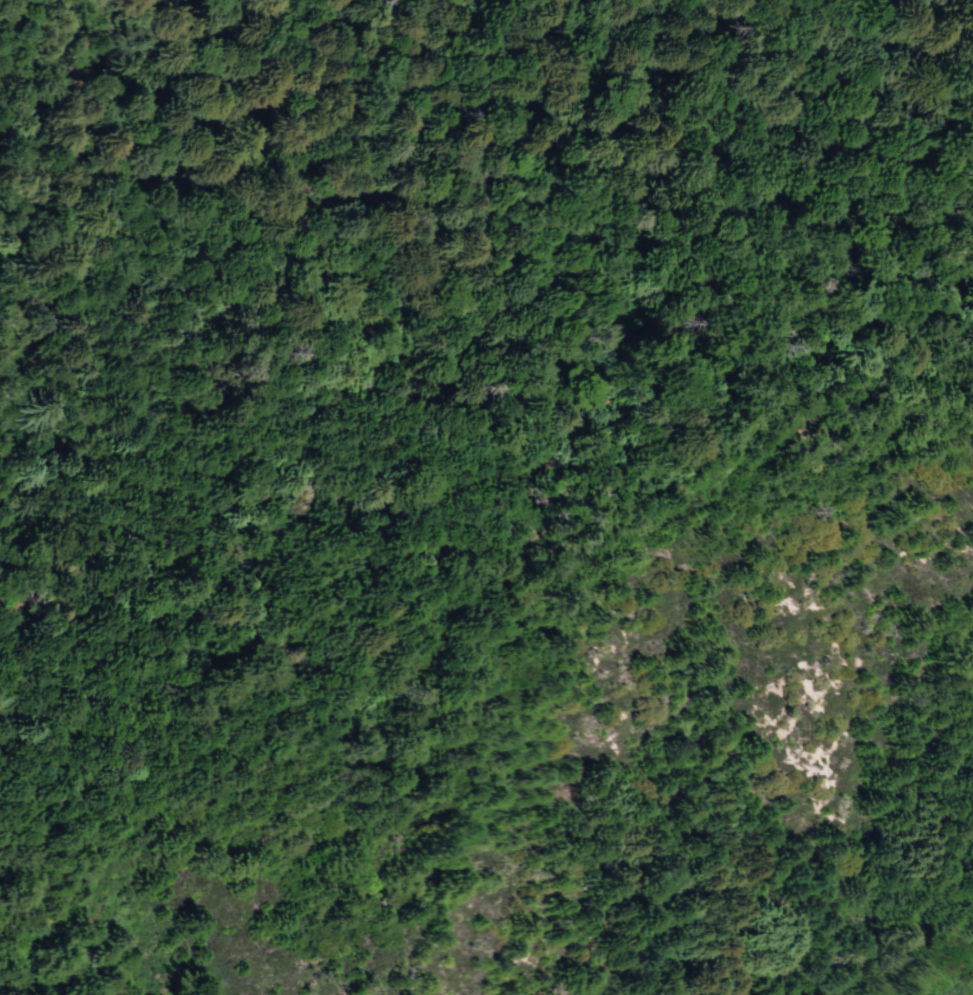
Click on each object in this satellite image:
road: (199, 136)
road: (503, 501)
road: (347, 710)

